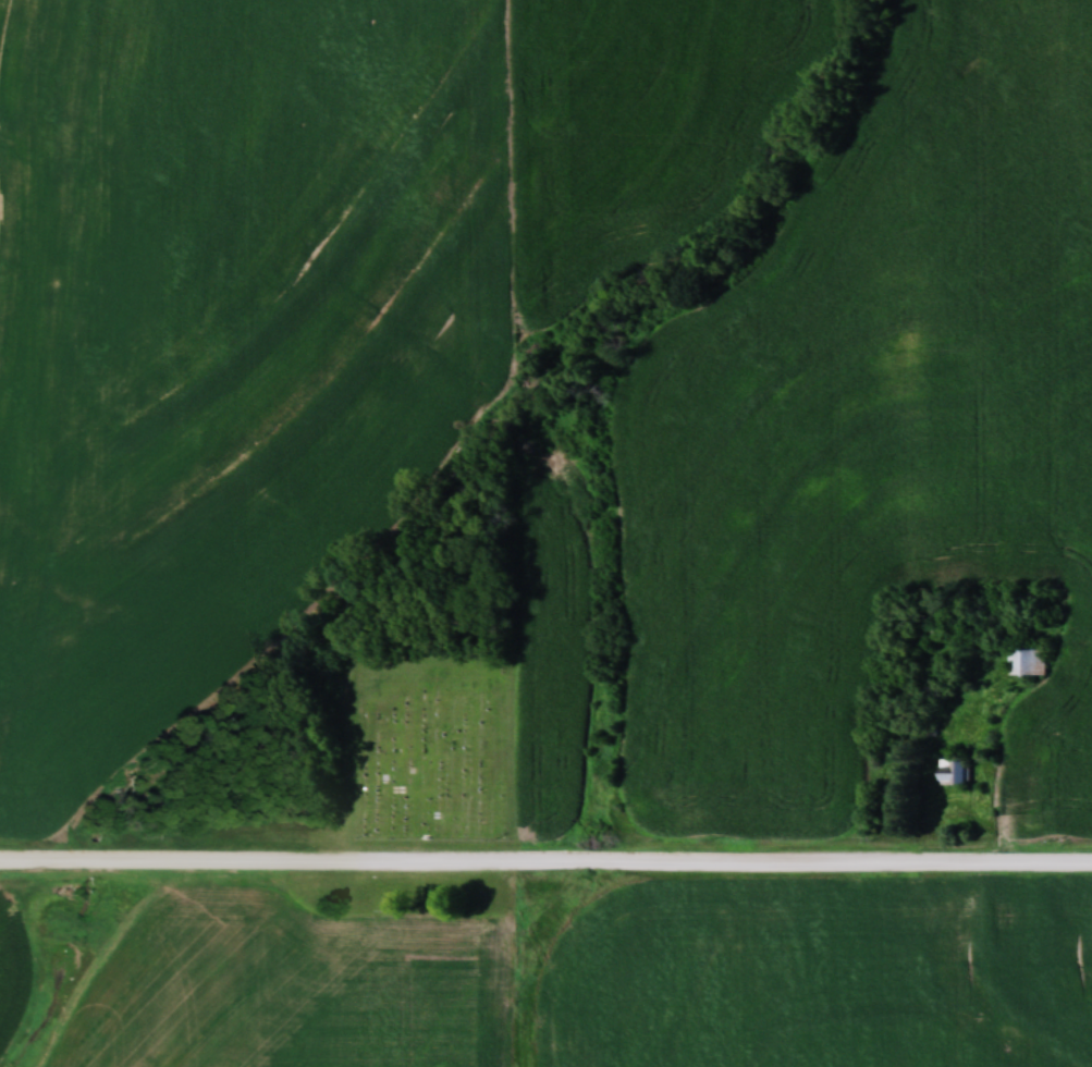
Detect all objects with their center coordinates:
building: (1026, 662)
building: (953, 771)
road: (1008, 792)
road: (545, 859)

